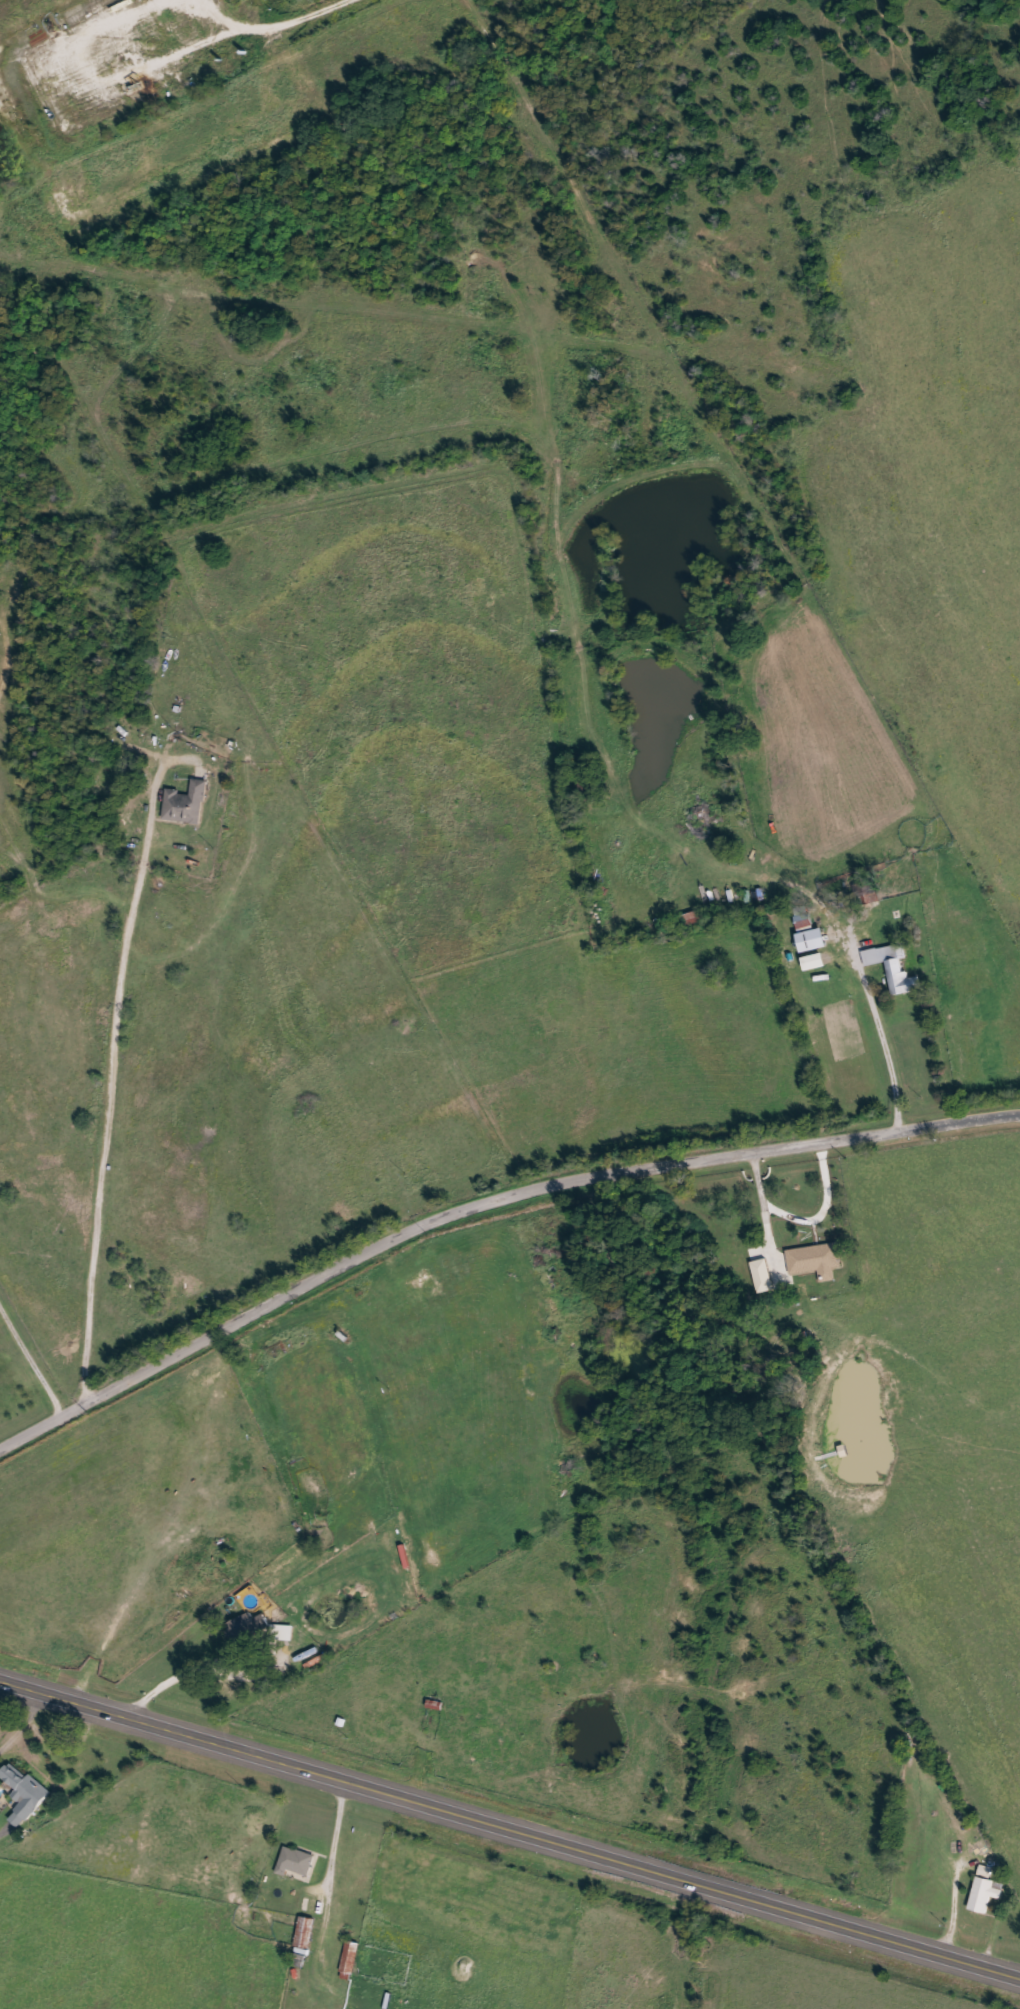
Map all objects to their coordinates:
building: (186, 804)
building: (803, 918)
building: (694, 919)
building: (813, 940)
building: (820, 962)
building: (894, 968)
road: (114, 1055)
road: (482, 1193)
building: (814, 1259)
building: (767, 1276)
building: (247, 1627)
building: (286, 1633)
building: (436, 1704)
building: (27, 1791)
road: (510, 1820)
building: (296, 1862)
building: (985, 1890)
building: (305, 1933)
building: (349, 1961)

